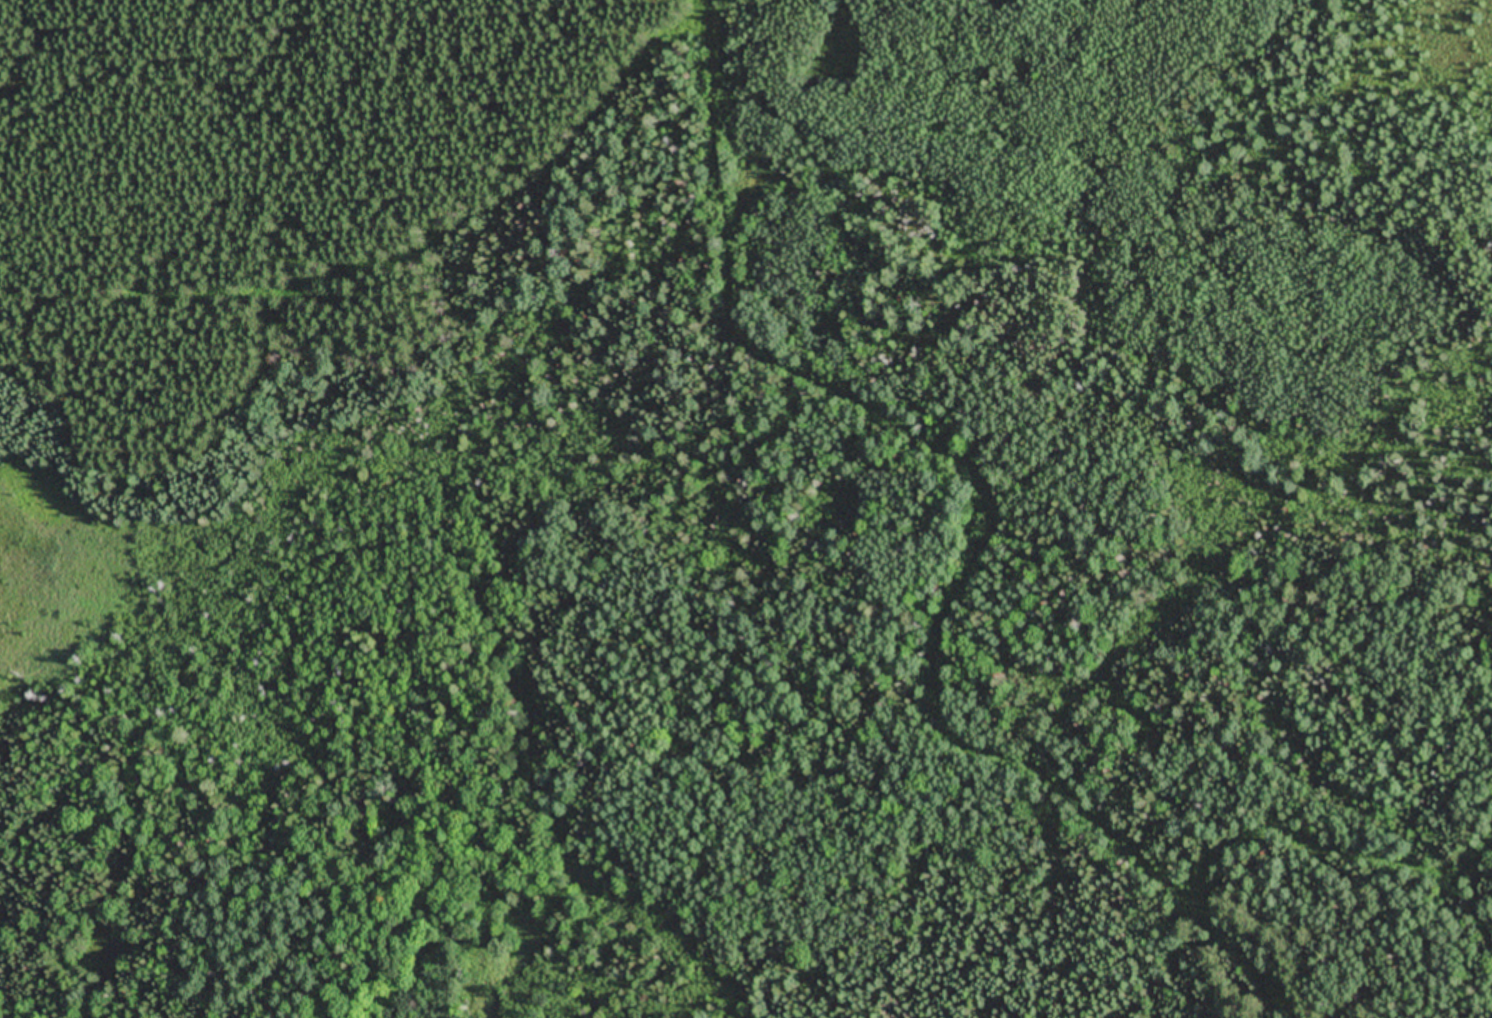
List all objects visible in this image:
road: (960, 545)

